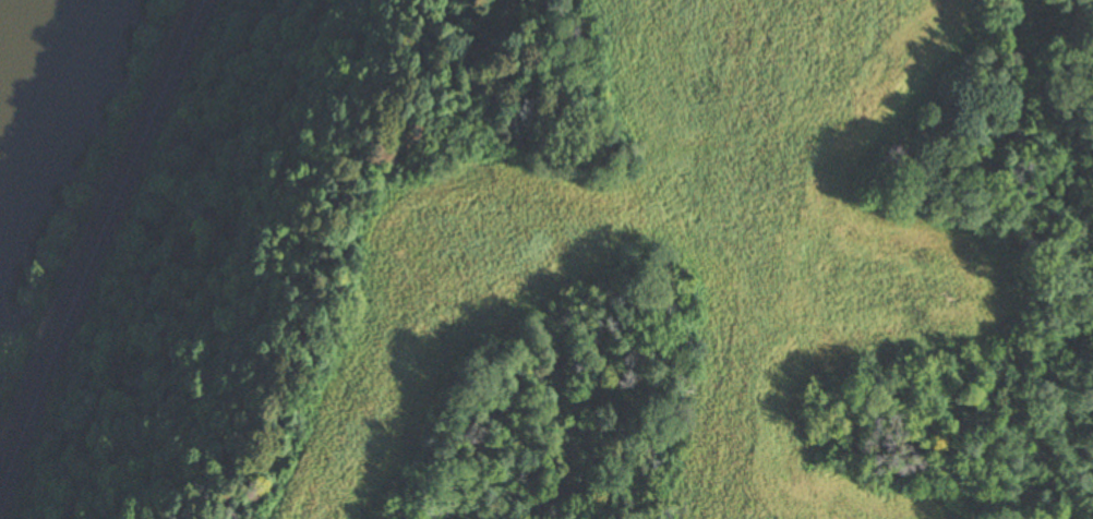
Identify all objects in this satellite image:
building: (927, 132)
railway: (94, 224)
railway: (99, 244)

